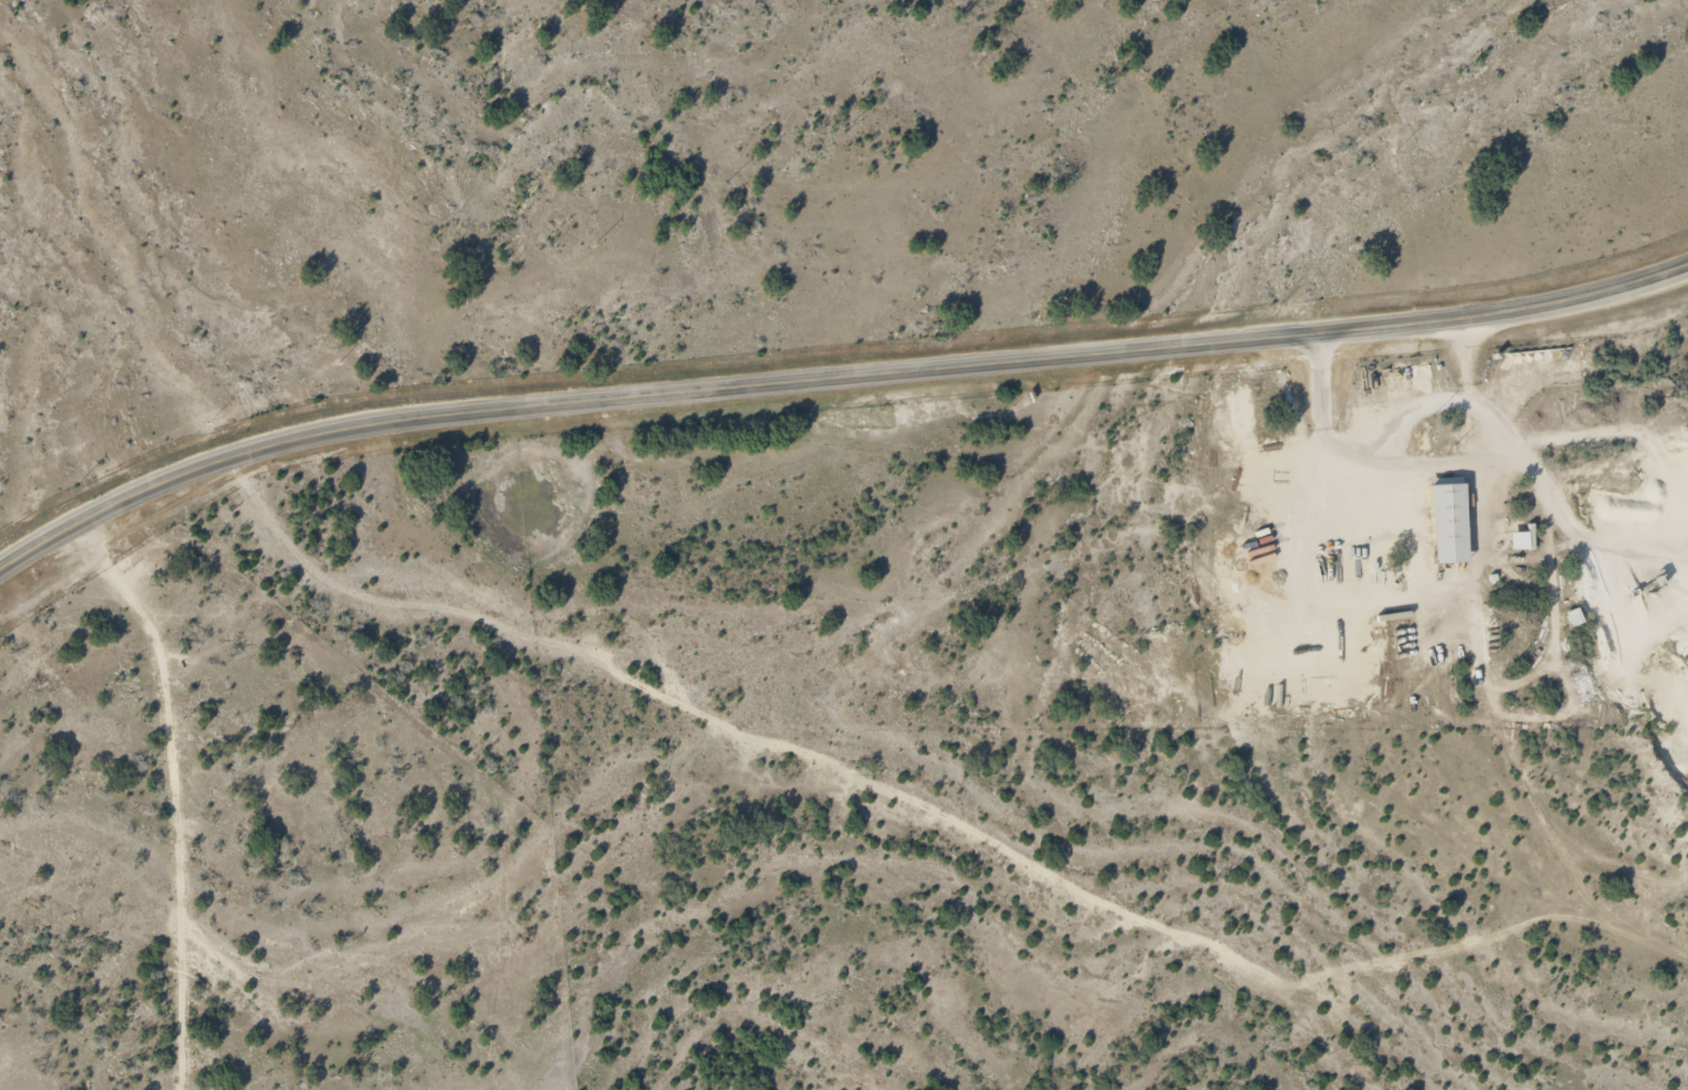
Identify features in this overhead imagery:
road: (831, 378)
road: (1415, 423)
road: (170, 794)

